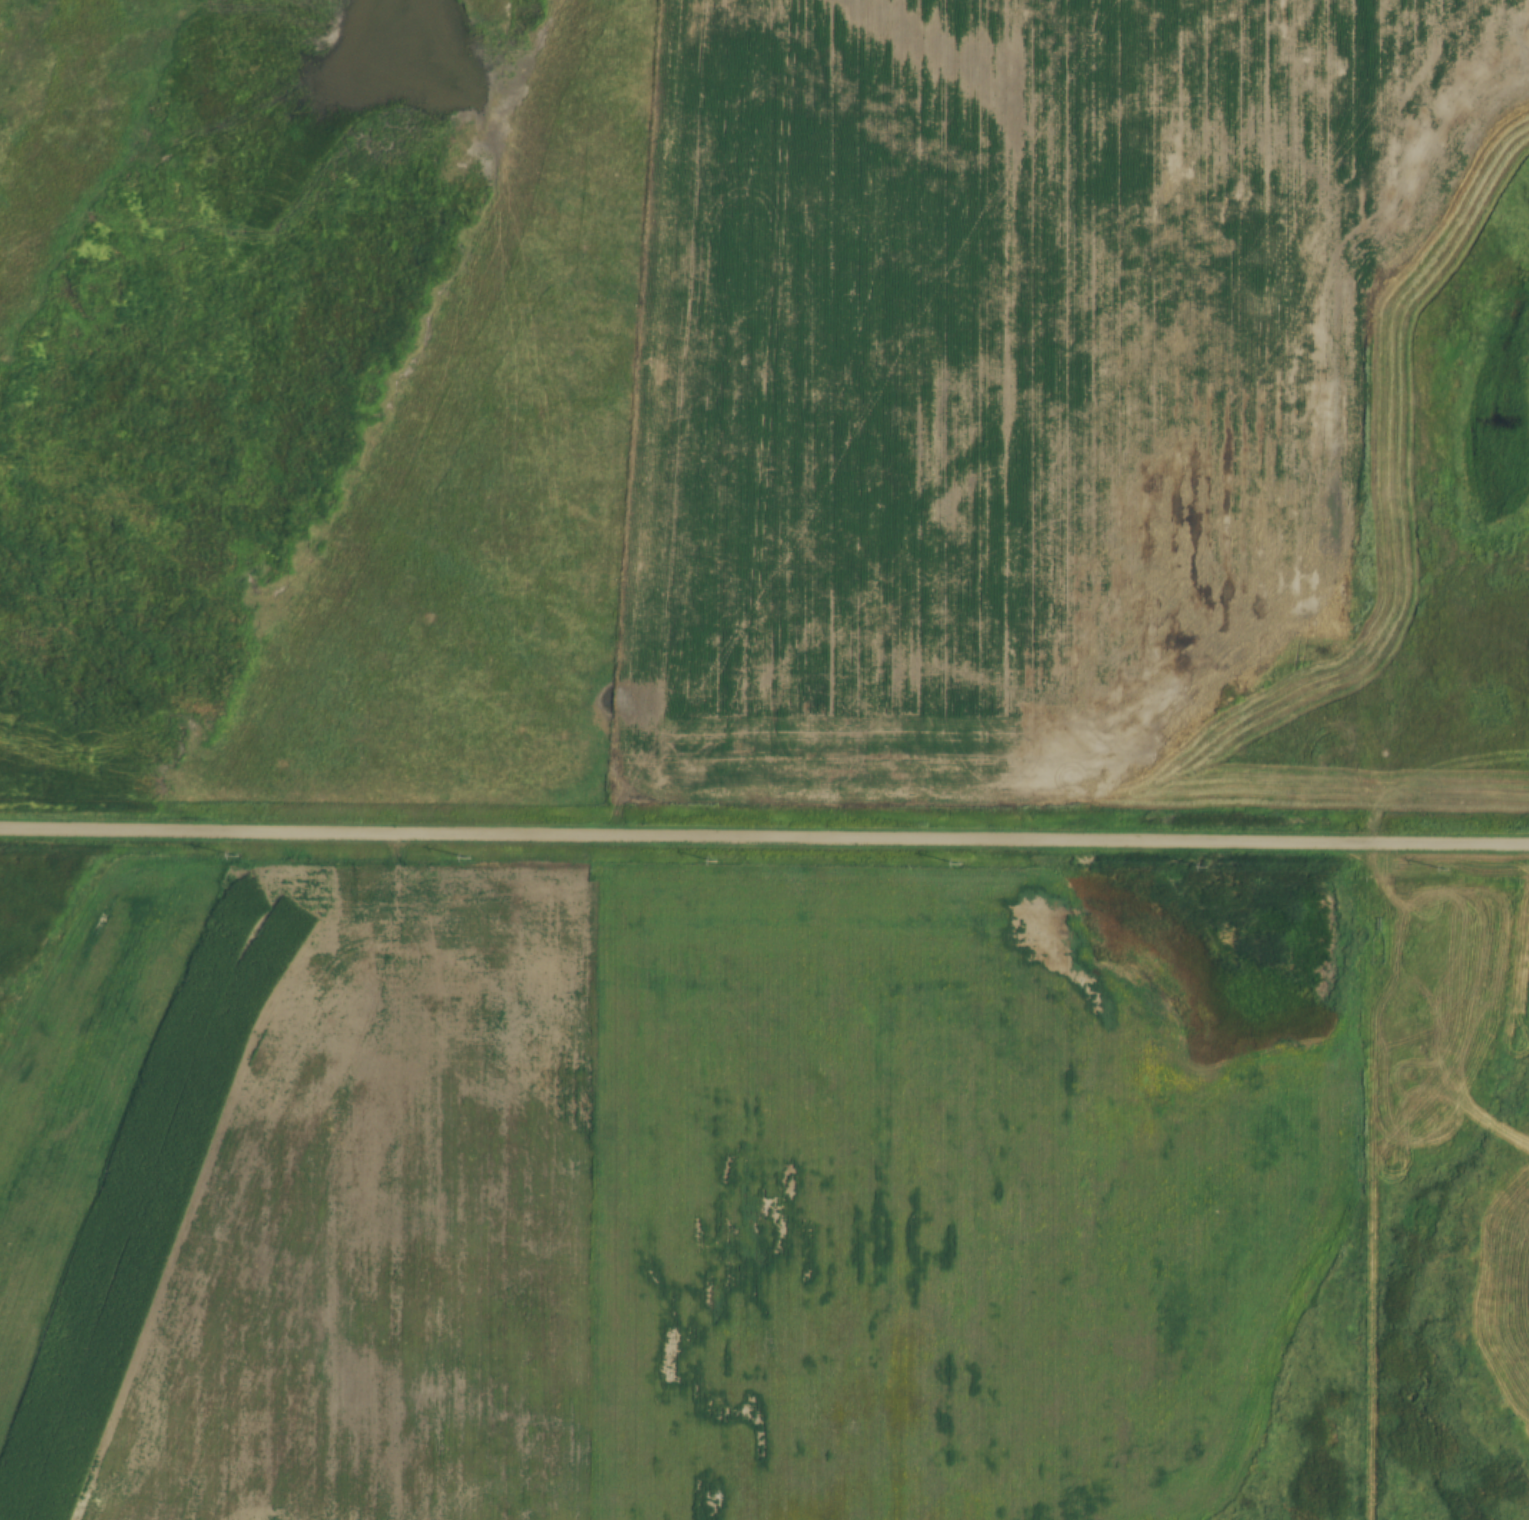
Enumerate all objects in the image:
road: (764, 837)
power tower: (956, 863)

